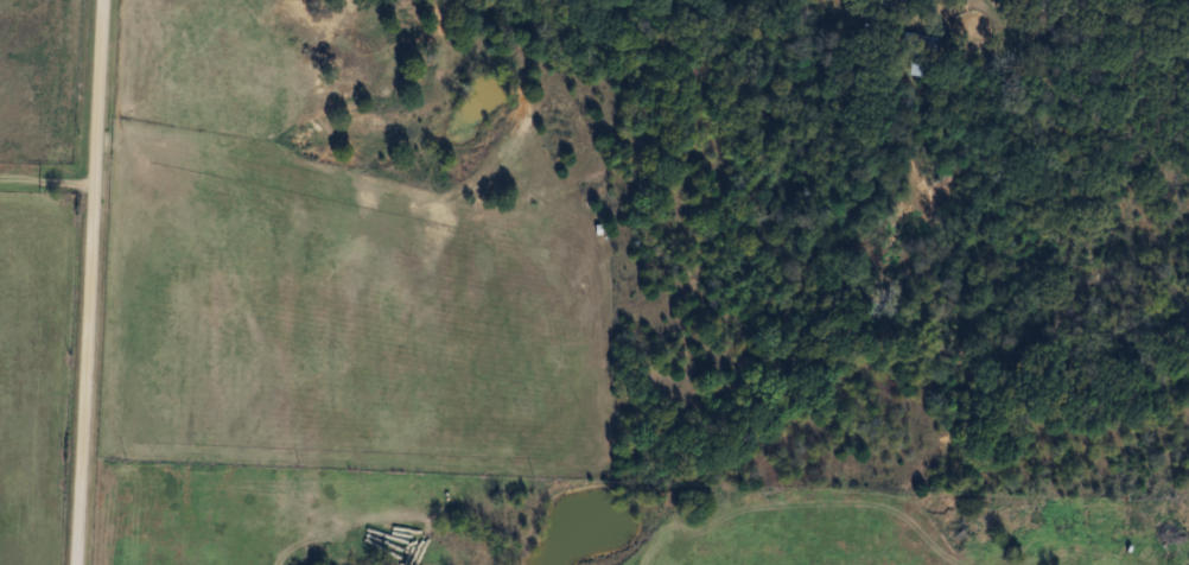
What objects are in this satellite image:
building: (917, 55)
road: (45, 180)
road: (88, 281)

